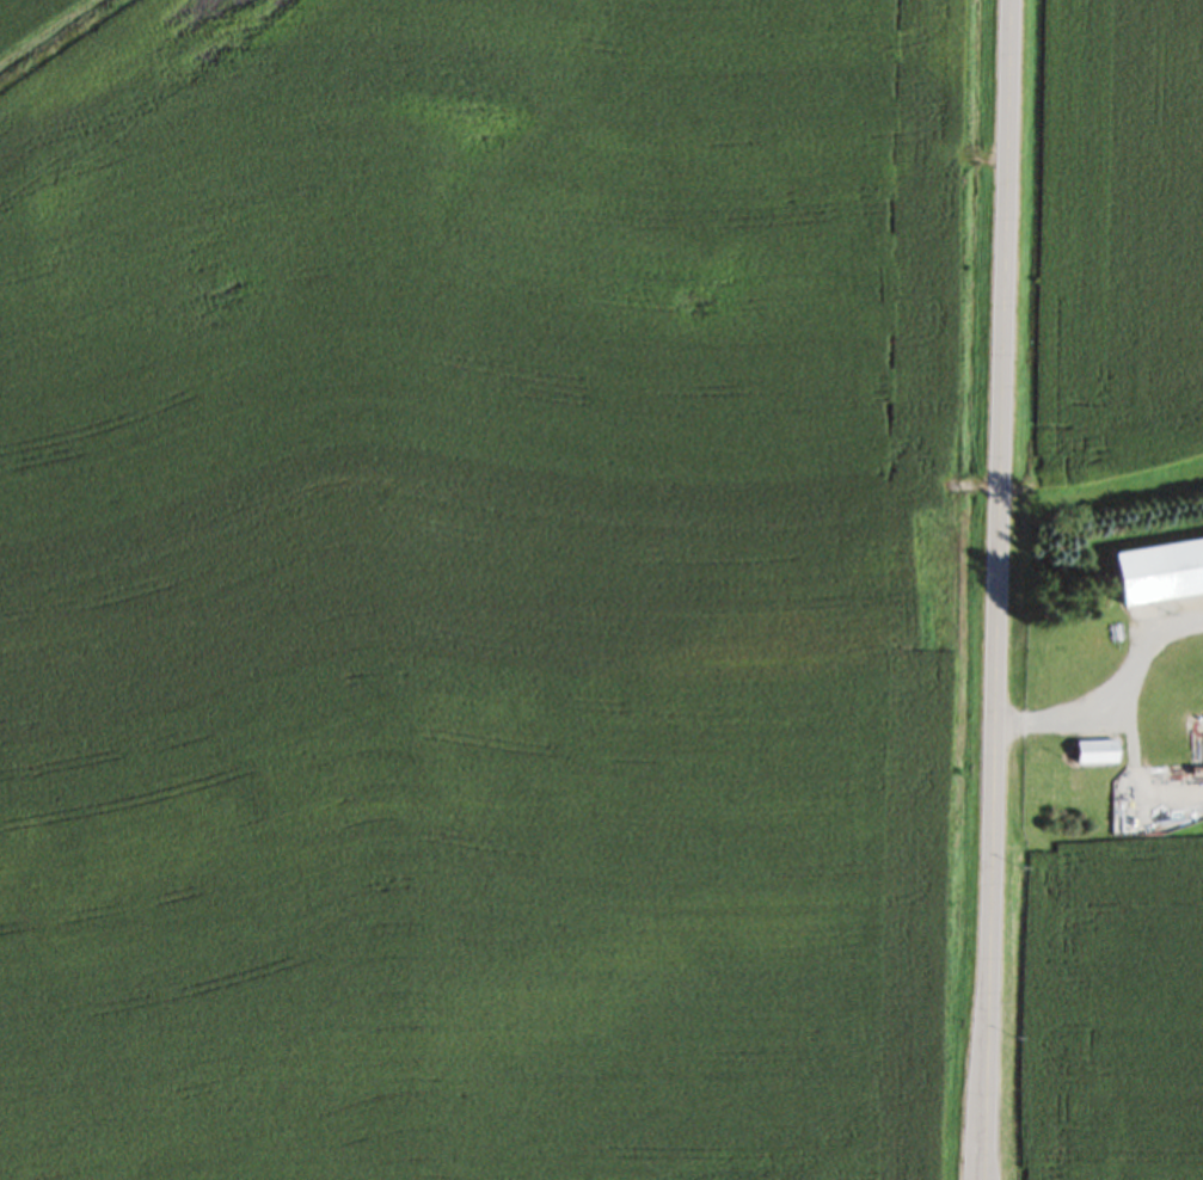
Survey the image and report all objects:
building: (1158, 578)
road: (990, 589)
building: (1095, 672)
road: (1104, 689)
building: (1091, 758)

